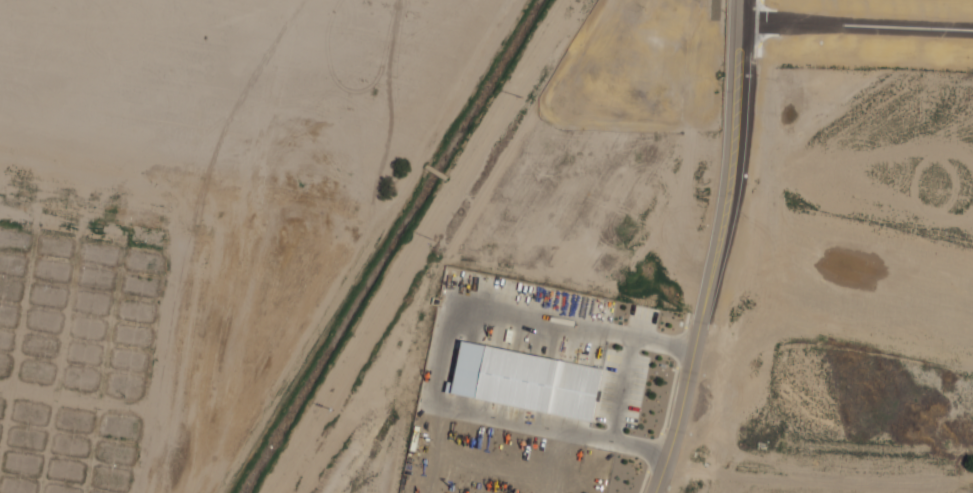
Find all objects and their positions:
road: (856, 35)
road: (719, 249)
building: (528, 378)

